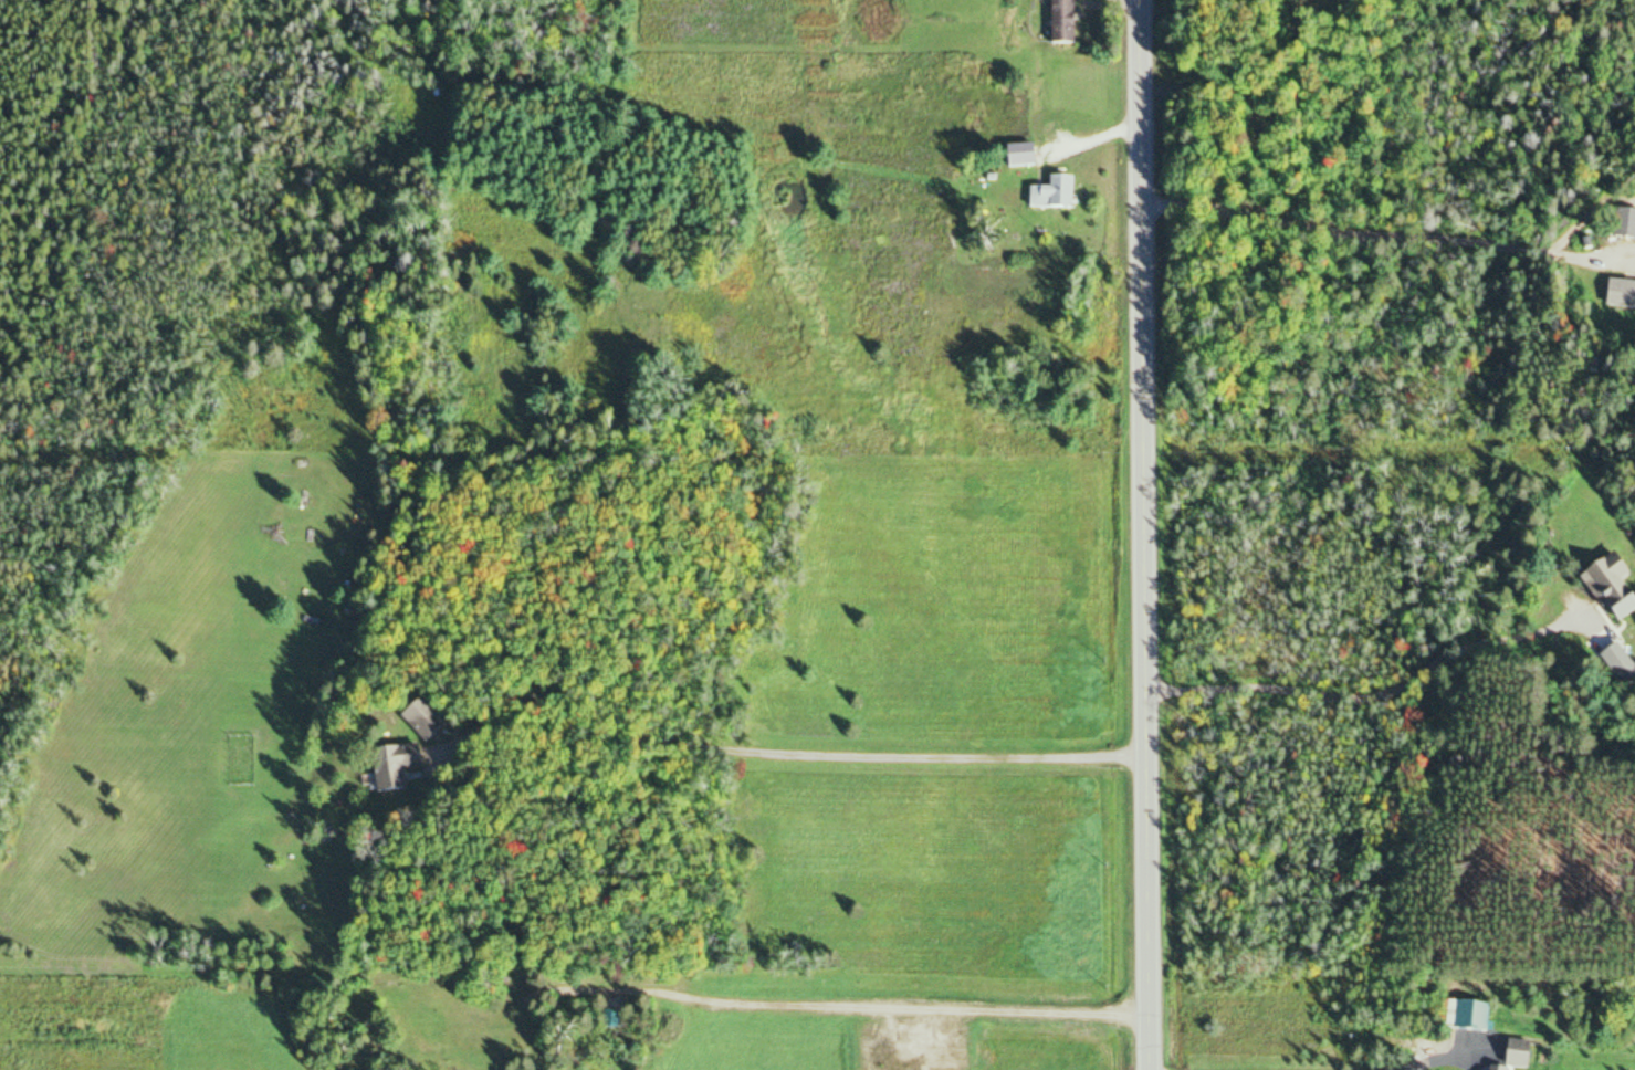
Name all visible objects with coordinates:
building: (1066, 21)
building: (1058, 193)
building: (1629, 224)
building: (1623, 295)
road: (1144, 535)
building: (1624, 598)
building: (1624, 663)
building: (427, 718)
road: (792, 751)
building: (398, 766)
building: (1480, 1016)

